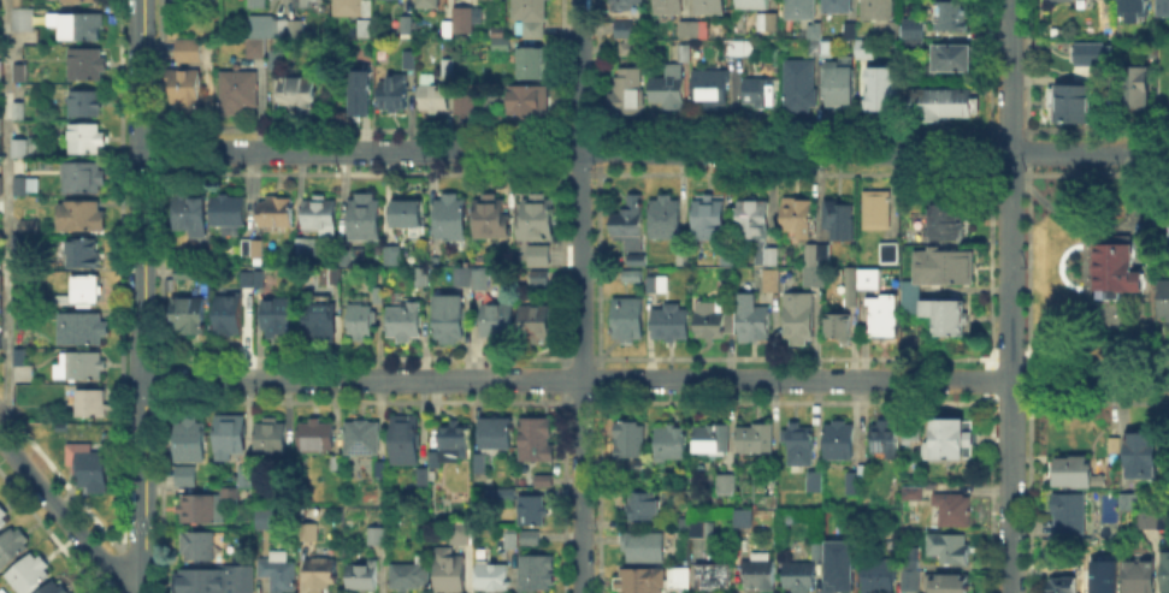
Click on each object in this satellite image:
building: (82, 0)
building: (20, 4)
building: (312, 4)
building: (433, 4)
building: (262, 5)
building: (625, 5)
building: (754, 5)
building: (669, 7)
building: (712, 7)
building: (839, 7)
building: (1165, 7)
building: (355, 8)
building: (1138, 8)
building: (801, 10)
building: (879, 10)
building: (951, 16)
building: (531, 17)
building: (25, 19)
building: (768, 20)
building: (462, 23)
building: (407, 25)
building: (81, 26)
building: (283, 28)
building: (816, 28)
building: (364, 29)
building: (626, 31)
building: (852, 31)
building: (702, 32)
building: (895, 32)
building: (917, 32)
building: (917, 46)
building: (504, 47)
building: (739, 48)
building: (632, 49)
building: (825, 49)
building: (189, 51)
building: (867, 51)
building: (1090, 52)
building: (256, 53)
building: (956, 59)
building: (278, 61)
building: (411, 61)
building: (536, 63)
building: (89, 66)
building: (449, 66)
building: (1, 71)
building: (20, 73)
building: (1168, 78)
building: (799, 88)
building: (671, 89)
building: (713, 90)
building: (842, 90)
building: (188, 91)
building: (365, 91)
building: (394, 93)
building: (763, 93)
building: (884, 93)
building: (1136, 93)
building: (241, 94)
building: (301, 95)
building: (626, 95)
building: (436, 96)
building: (533, 102)
building: (947, 103)
building: (1073, 103)
building: (87, 105)
building: (465, 106)
building: (19, 112)
building: (89, 140)
building: (22, 149)
road: (656, 152)
building: (83, 178)
building: (17, 183)
building: (22, 188)
road: (6, 210)
building: (278, 212)
building: (880, 212)
building: (190, 213)
building: (230, 214)
building: (321, 214)
building: (411, 215)
building: (83, 217)
building: (367, 217)
building: (492, 217)
building: (453, 218)
building: (667, 219)
building: (798, 219)
building: (539, 220)
building: (710, 220)
building: (842, 220)
building: (945, 221)
building: (31, 226)
building: (631, 229)
building: (760, 239)
building: (18, 245)
building: (307, 247)
building: (255, 251)
building: (396, 251)
building: (893, 254)
building: (84, 255)
building: (541, 256)
building: (821, 256)
building: (685, 259)
building: (1120, 268)
building: (184, 273)
building: (632, 275)
building: (462, 277)
building: (539, 278)
building: (248, 280)
building: (260, 280)
building: (483, 280)
building: (20, 284)
building: (861, 284)
building: (1, 285)
building: (654, 285)
building: (87, 291)
building: (913, 293)
road: (143, 296)
road: (581, 296)
road: (1009, 296)
building: (1164, 301)
building: (191, 315)
building: (230, 315)
building: (450, 316)
building: (710, 318)
building: (279, 319)
building: (498, 319)
building: (755, 319)
building: (884, 319)
building: (360, 320)
building: (409, 320)
building: (28, 321)
building: (630, 321)
building: (321, 322)
building: (798, 322)
building: (671, 324)
building: (537, 326)
building: (839, 328)
building: (84, 330)
building: (0, 345)
building: (23, 358)
building: (81, 367)
road: (656, 379)
building: (93, 404)
building: (317, 435)
building: (231, 438)
building: (896, 438)
building: (364, 439)
building: (453, 439)
building: (757, 439)
building: (273, 440)
building: (494, 440)
building: (538, 440)
building: (714, 440)
building: (191, 441)
building: (406, 441)
building: (632, 441)
building: (840, 441)
building: (951, 443)
building: (672, 444)
building: (801, 447)
building: (1144, 455)
building: (337, 464)
building: (639, 468)
building: (91, 469)
building: (866, 473)
building: (1076, 473)
building: (424, 476)
building: (187, 478)
building: (249, 479)
building: (544, 482)
building: (817, 484)
building: (855, 484)
building: (727, 485)
building: (774, 486)
building: (915, 493)
building: (231, 496)
building: (1130, 503)
building: (647, 505)
building: (201, 508)
building: (533, 511)
building: (953, 511)
road: (64, 516)
building: (1074, 516)
building: (745, 517)
building: (267, 518)
building: (2, 520)
building: (683, 520)
building: (1147, 522)
building: (704, 530)
building: (311, 533)
building: (464, 535)
building: (378, 536)
building: (510, 539)
building: (532, 539)
building: (200, 546)
building: (13, 547)
building: (647, 547)
building: (952, 550)
building: (817, 551)
building: (842, 564)
building: (910, 569)
building: (279, 571)
building: (450, 571)
building: (538, 574)
building: (761, 574)
building: (1136, 574)
building: (31, 575)
building: (321, 575)
building: (411, 575)
building: (1102, 575)
building: (1167, 575)
building: (801, 576)
building: (880, 576)
building: (364, 577)
building: (495, 577)
building: (716, 577)
building: (683, 579)
building: (217, 581)
building: (642, 581)
building: (950, 585)
building: (1065, 586)
building: (831, 587)
building: (58, 588)
building: (1, 591)

